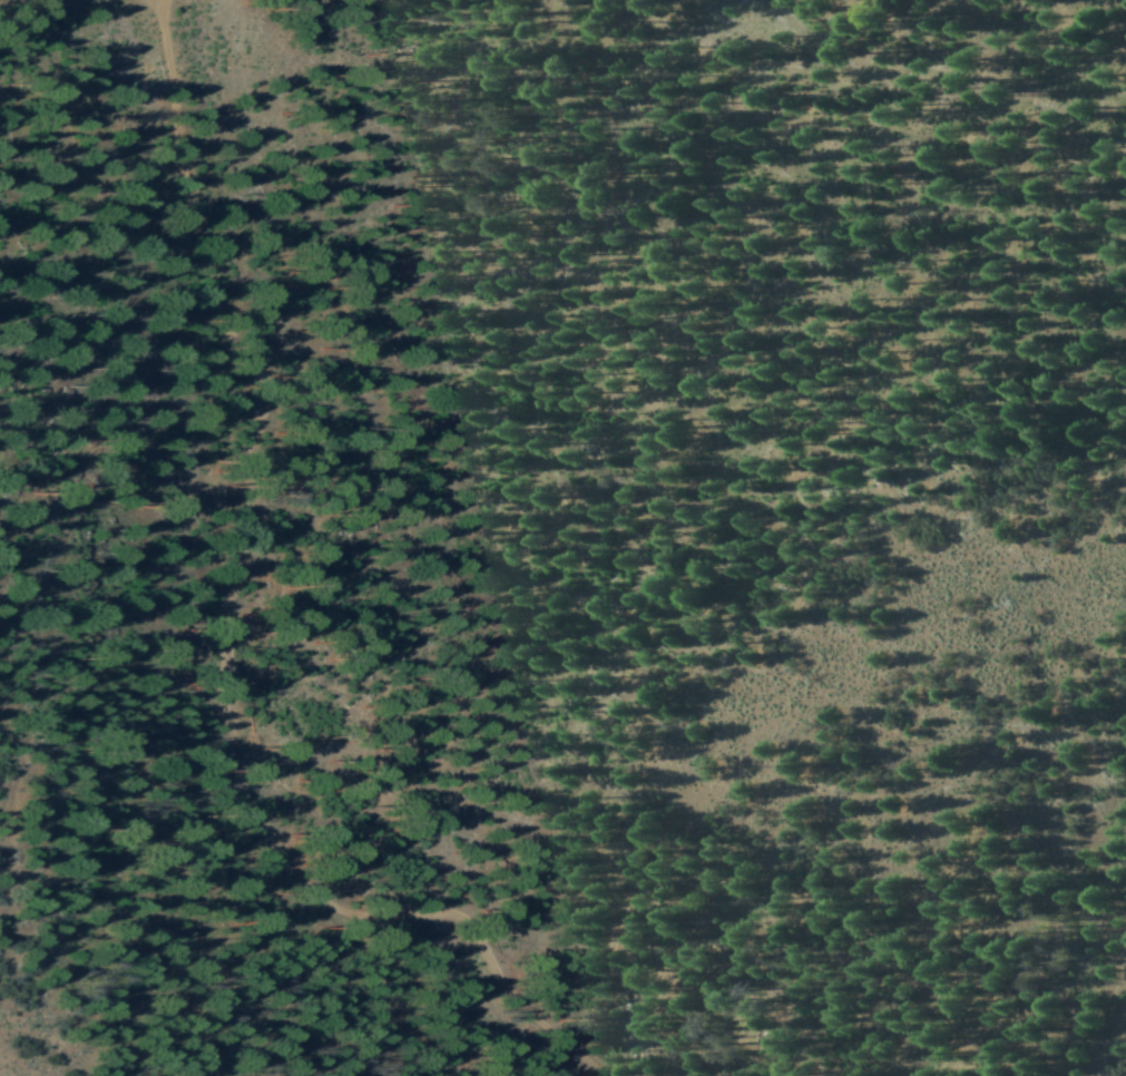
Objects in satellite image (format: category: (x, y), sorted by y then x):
road: (218, 532)

